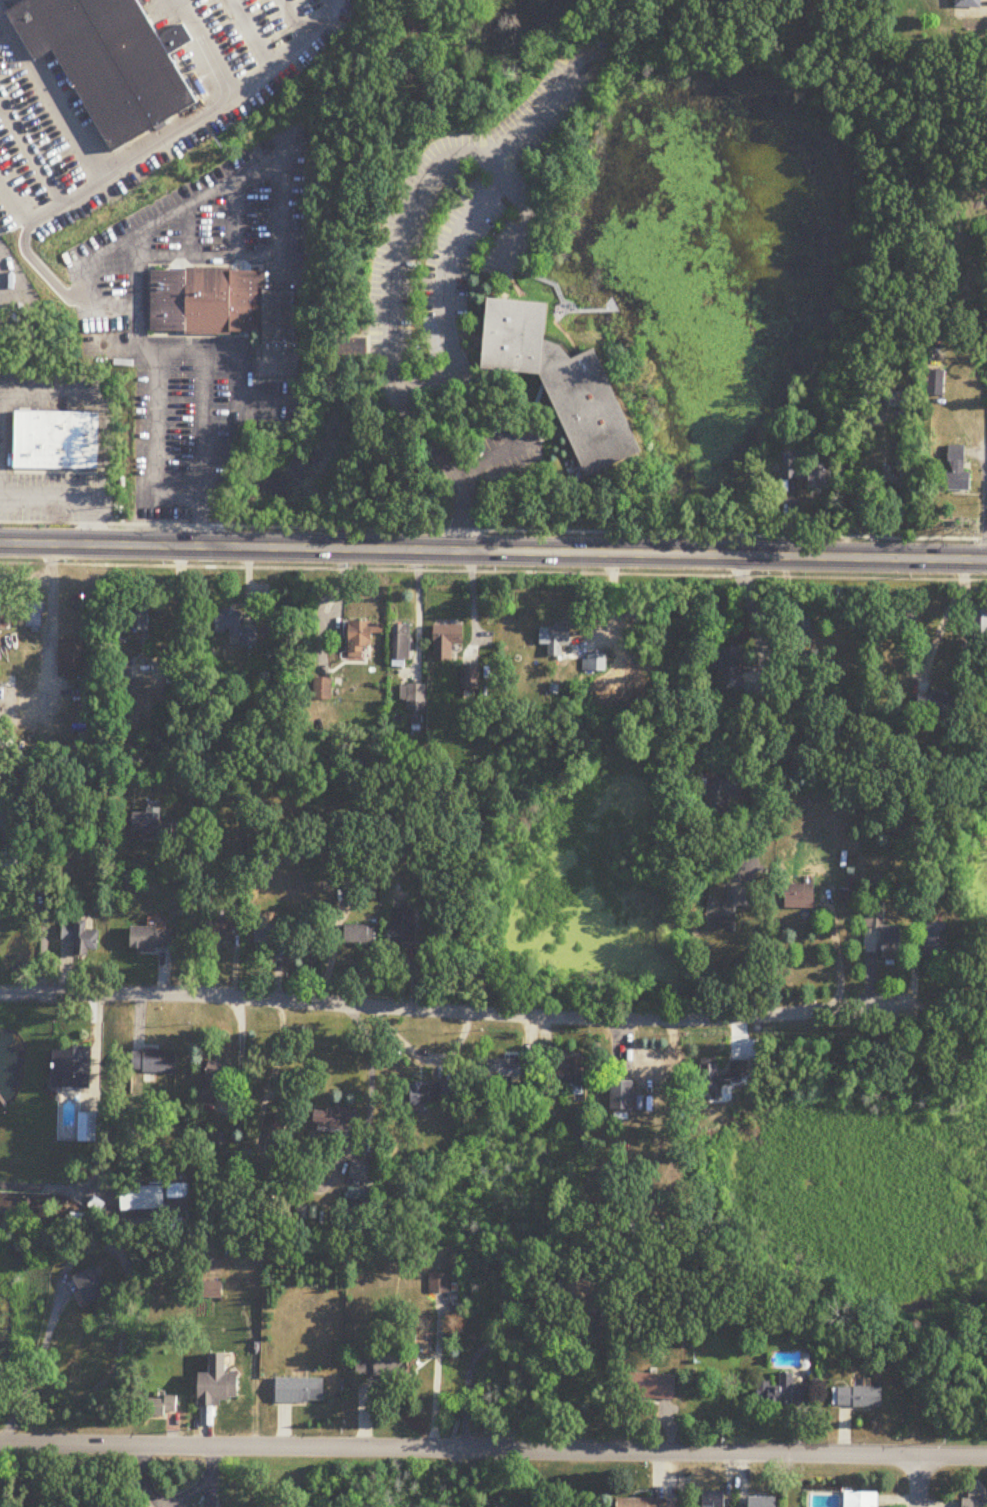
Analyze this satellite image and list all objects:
road: (0, 0)
building: (963, 4)
road: (202, 8)
road: (253, 27)
road: (289, 51)
building: (108, 59)
road: (2, 93)
road: (2, 98)
road: (49, 99)
road: (537, 116)
road: (34, 149)
road: (132, 159)
road: (243, 170)
road: (14, 199)
road: (231, 218)
road: (12, 222)
road: (187, 230)
road: (399, 235)
road: (141, 286)
road: (442, 298)
building: (230, 311)
building: (351, 348)
building: (565, 382)
building: (931, 382)
road: (267, 401)
road: (235, 402)
road: (104, 406)
road: (203, 409)
road: (156, 422)
road: (535, 427)
building: (54, 438)
road: (499, 458)
road: (16, 468)
road: (35, 468)
road: (76, 469)
road: (52, 471)
building: (797, 474)
building: (884, 474)
road: (841, 477)
road: (87, 484)
building: (949, 487)
road: (168, 499)
road: (983, 501)
road: (462, 513)
road: (92, 519)
road: (364, 527)
road: (493, 549)
road: (493, 571)
road: (471, 595)
road: (418, 603)
building: (4, 614)
building: (34, 616)
road: (176, 616)
building: (903, 616)
road: (943, 616)
building: (142, 617)
building: (976, 620)
building: (233, 626)
building: (799, 626)
building: (363, 639)
building: (557, 639)
building: (447, 642)
building: (401, 645)
road: (51, 652)
building: (74, 658)
building: (597, 664)
building: (725, 668)
building: (125, 671)
building: (323, 688)
building: (414, 697)
road: (765, 700)
building: (929, 704)
building: (717, 792)
building: (152, 826)
building: (793, 897)
building: (724, 908)
road: (191, 913)
building: (404, 927)
building: (219, 932)
building: (361, 934)
building: (271, 935)
building: (881, 935)
building: (80, 937)
building: (152, 939)
building: (930, 941)
road: (465, 1011)
building: (155, 1062)
building: (513, 1068)
building: (73, 1069)
road: (370, 1074)
building: (571, 1074)
building: (216, 1076)
building: (721, 1077)
building: (437, 1093)
building: (623, 1095)
building: (335, 1119)
building: (87, 1128)
road: (101, 1137)
building: (360, 1171)
building: (141, 1199)
building: (439, 1284)
building: (92, 1286)
building: (582, 1291)
road: (478, 1351)
building: (383, 1365)
road: (30, 1368)
building: (219, 1389)
building: (300, 1391)
building: (784, 1393)
building: (863, 1397)
building: (161, 1406)
road: (493, 1452)
road: (917, 1480)
building: (861, 1499)
building: (714, 1501)
building: (763, 1502)
building: (643, 1503)
building: (976, 1503)

